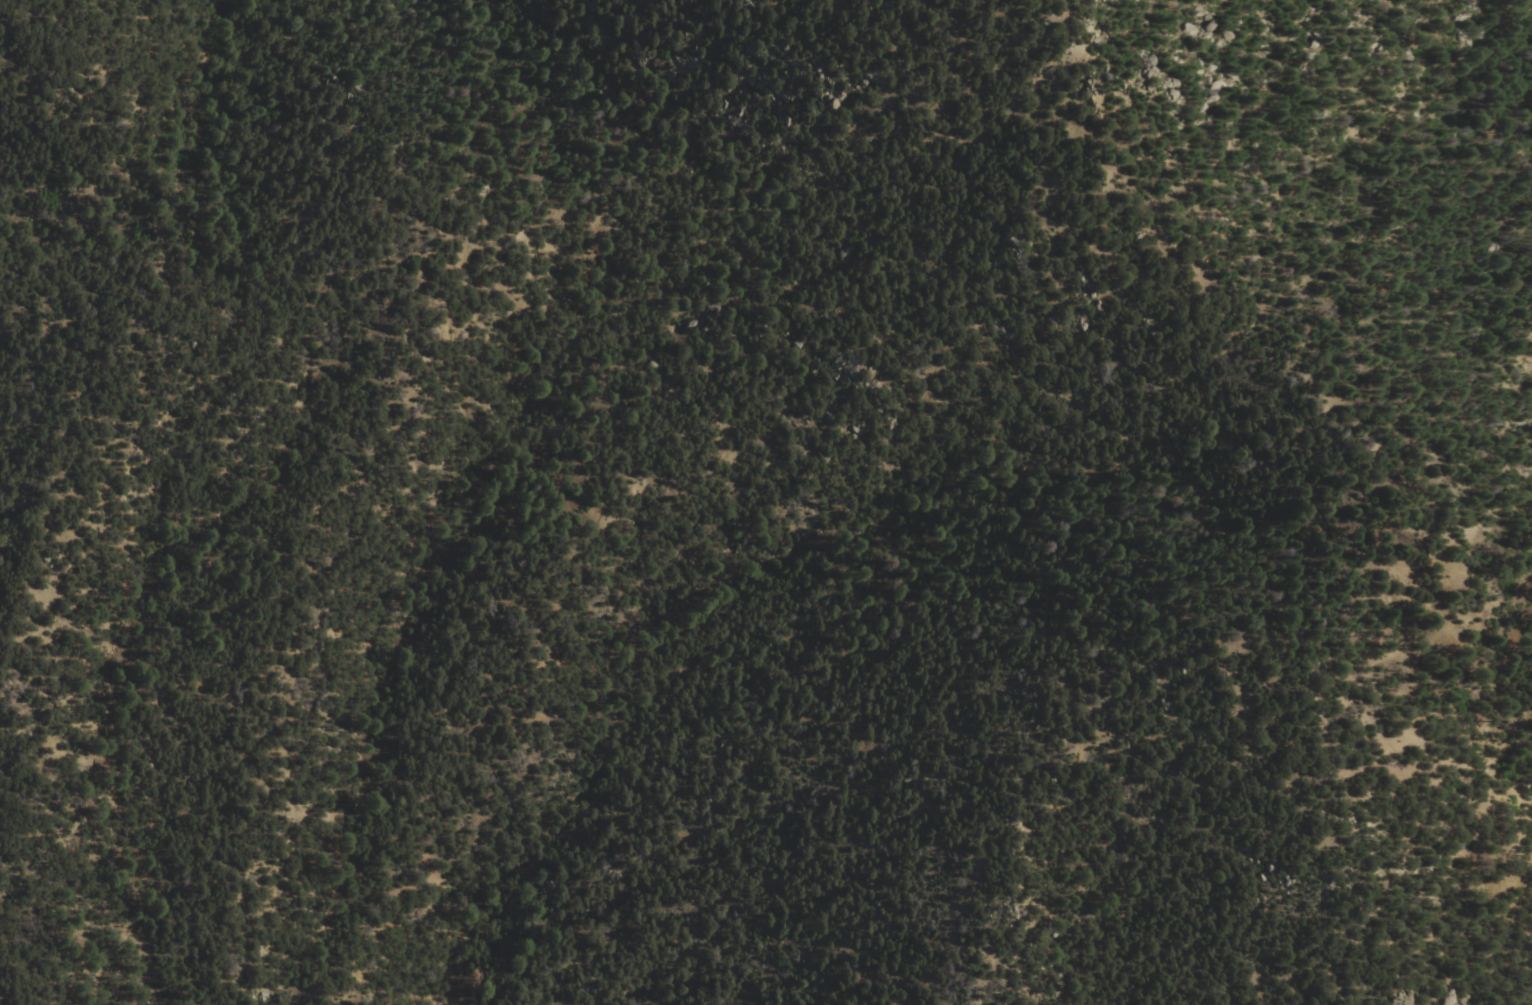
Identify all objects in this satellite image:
road: (748, 202)

